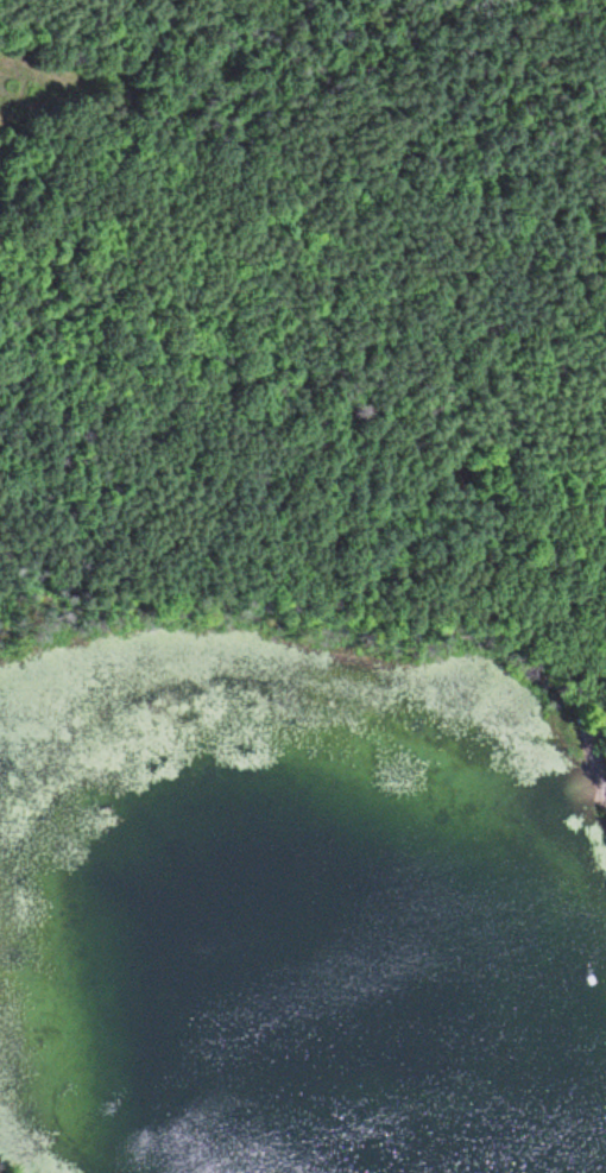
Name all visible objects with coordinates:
road: (585, 753)
road: (580, 780)

